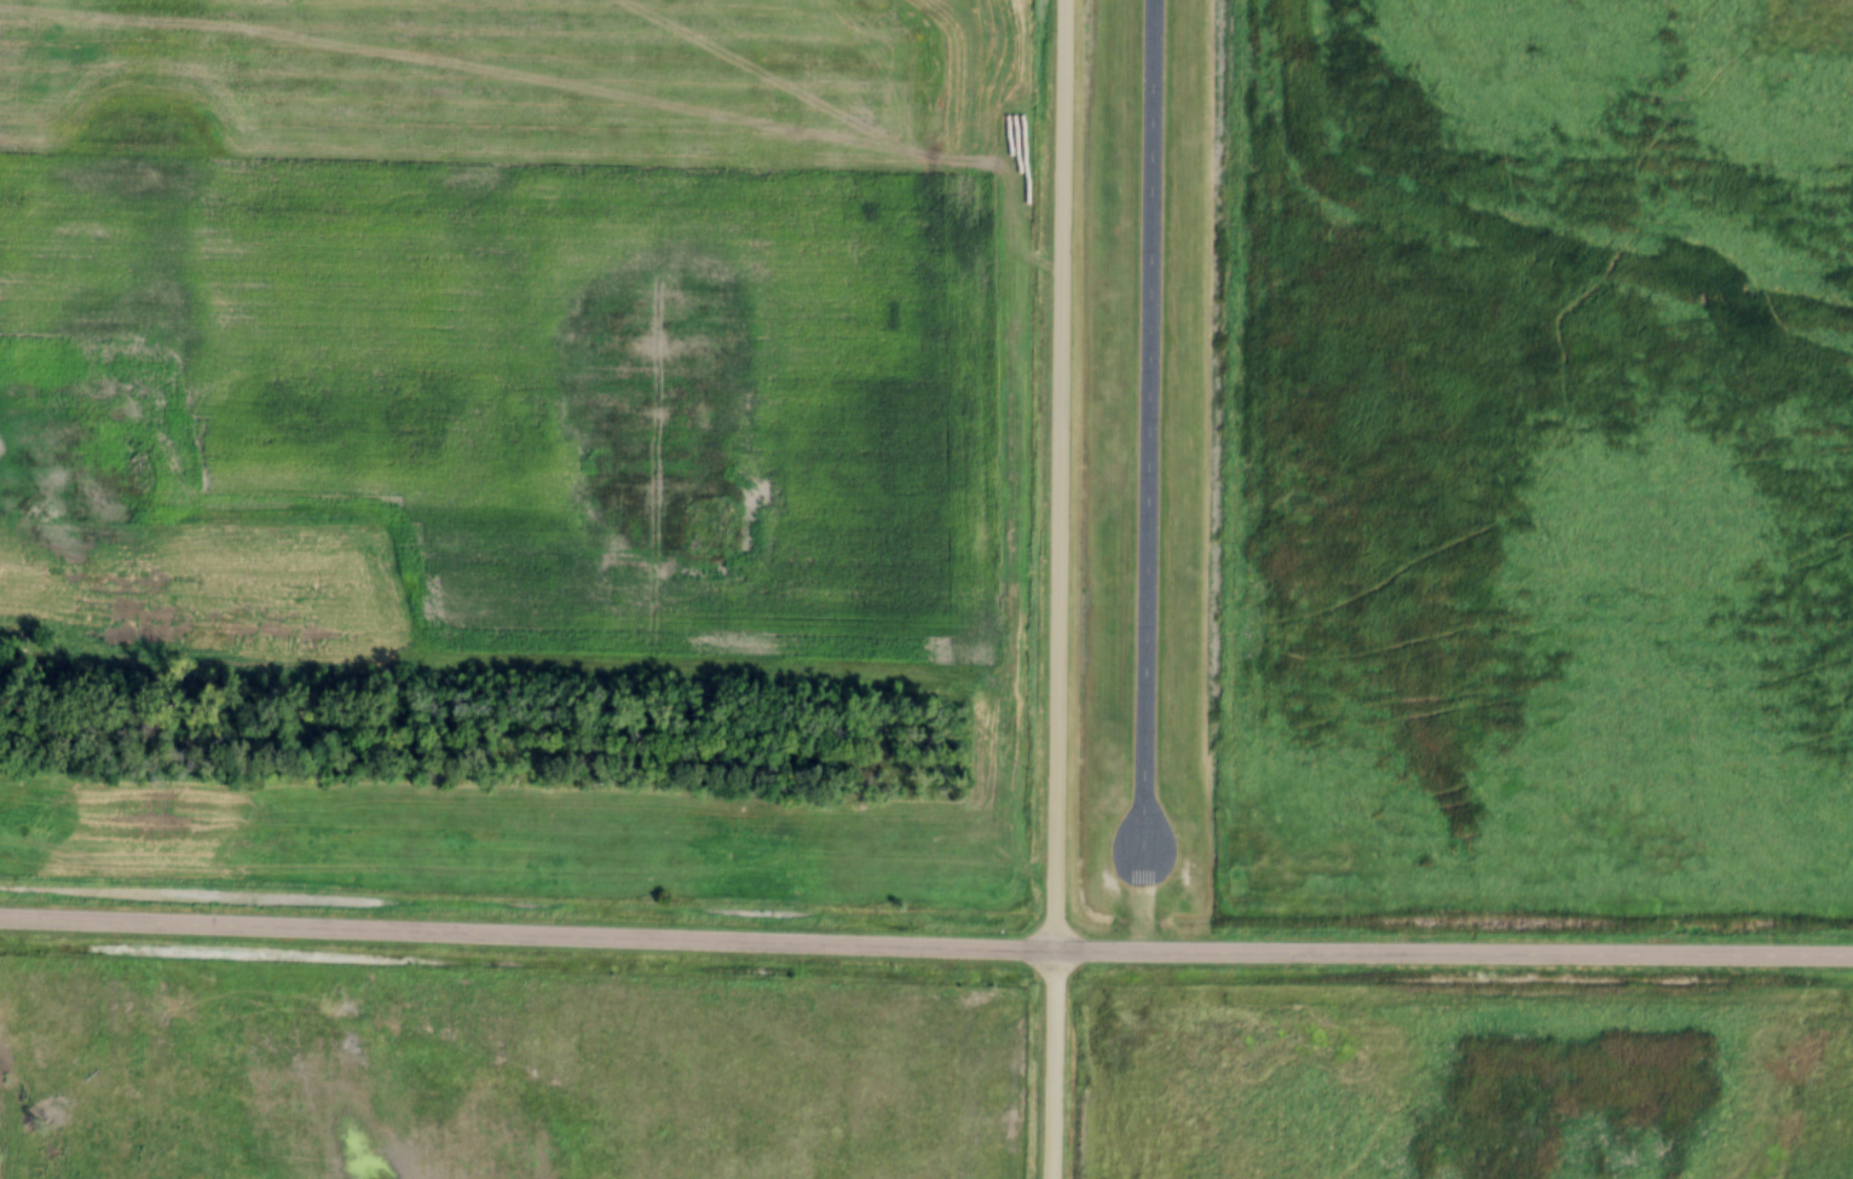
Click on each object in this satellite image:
airport runway: (1149, 424)
airport: (1470, 462)
road: (1055, 589)
road: (925, 947)

